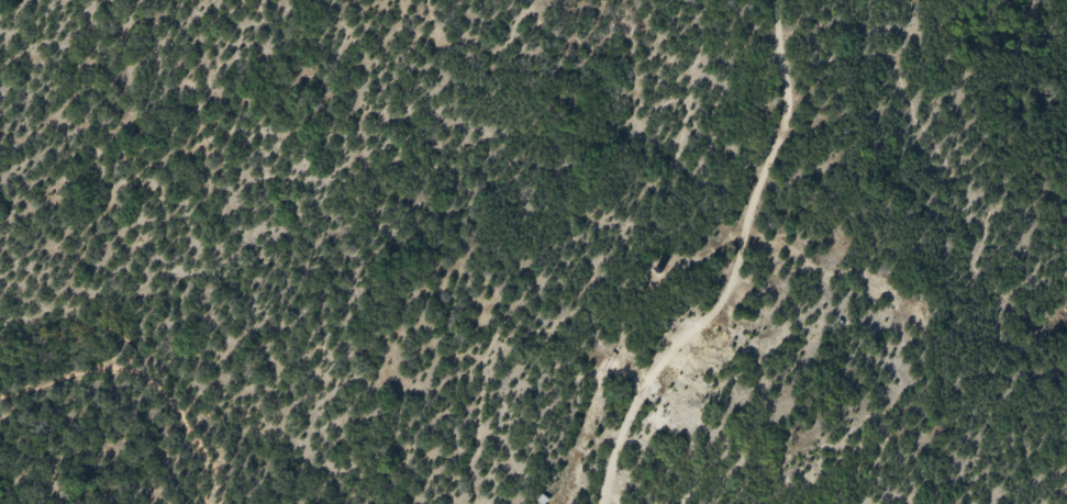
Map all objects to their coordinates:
road: (737, 267)

